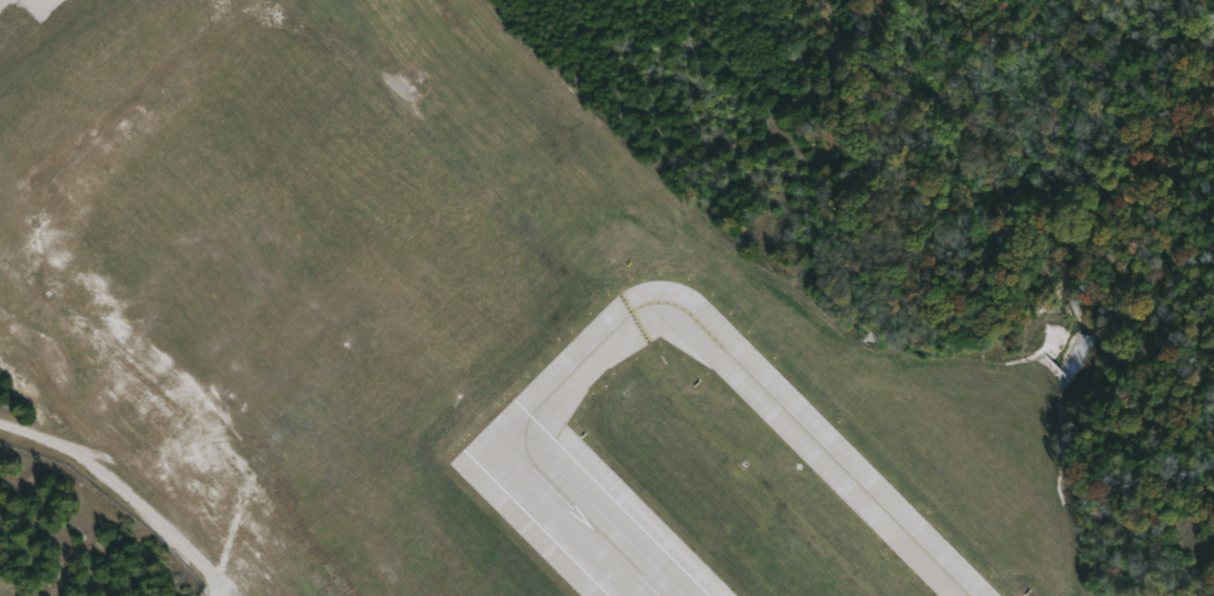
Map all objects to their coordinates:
airport: (626, 289)

